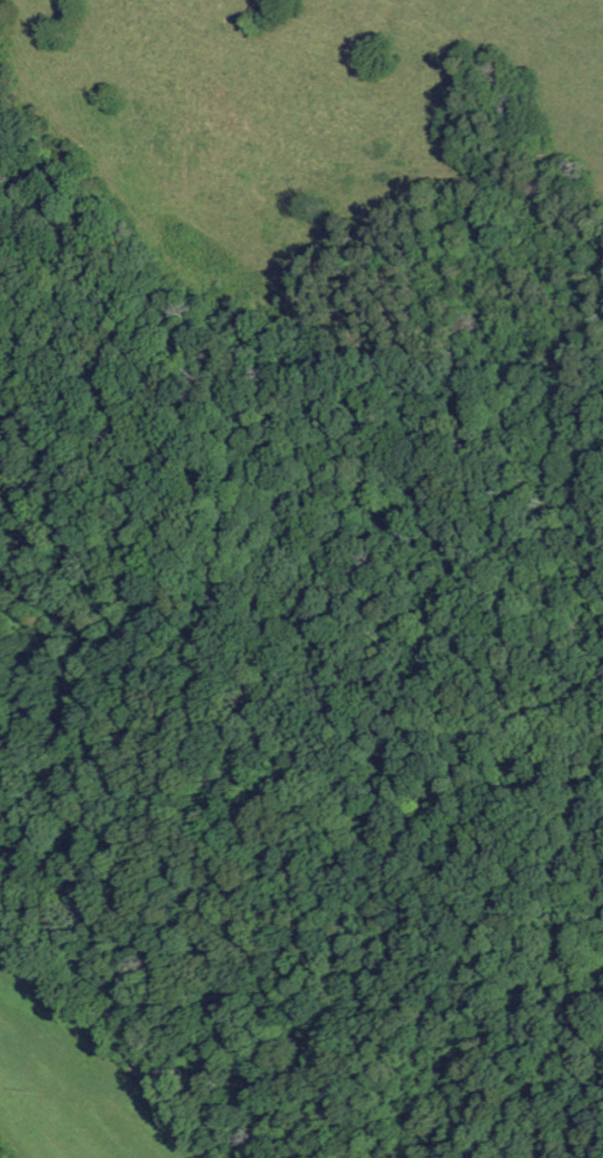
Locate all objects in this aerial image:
road: (206, 1147)

